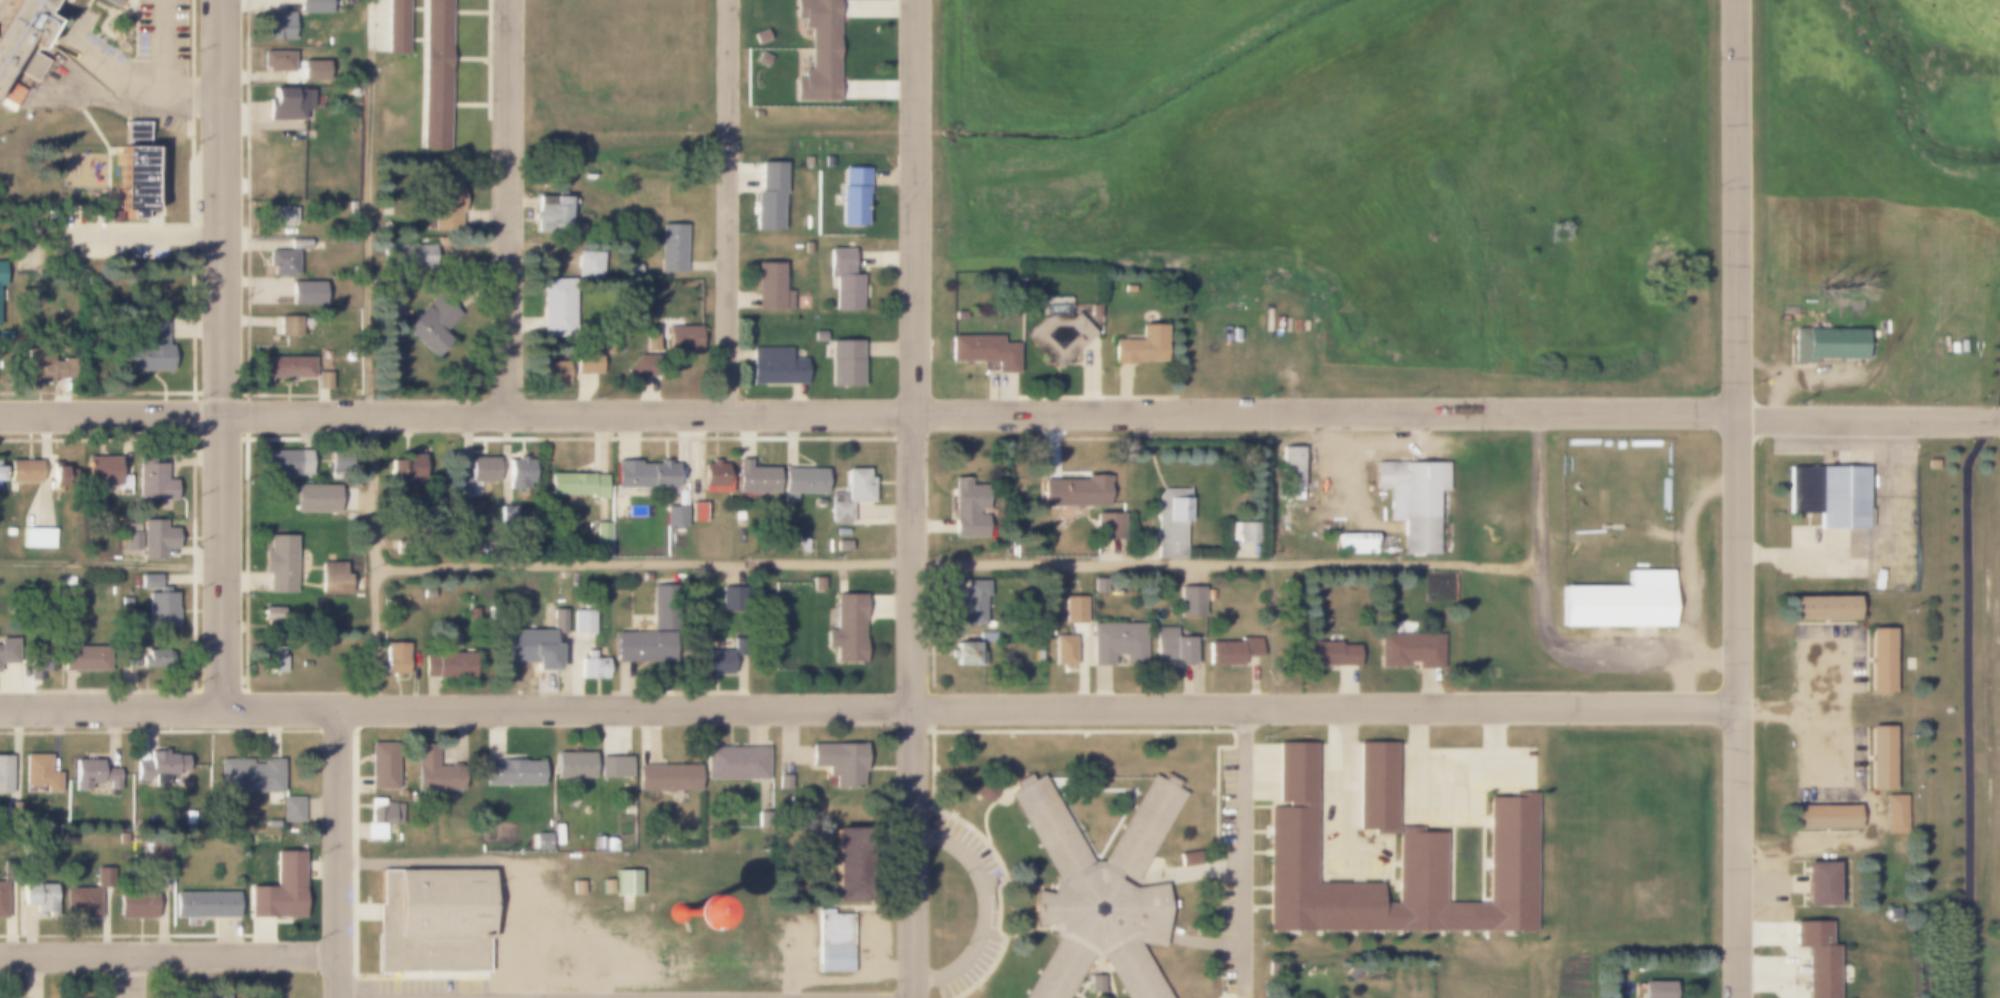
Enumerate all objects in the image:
building: (64, 1)
building: (113, 2)
building: (312, 6)
road: (370, 25)
building: (281, 26)
building: (397, 27)
parking lot: (163, 33)
building: (758, 36)
building: (22, 37)
road: (161, 47)
building: (817, 51)
building: (760, 58)
building: (276, 60)
building: (437, 72)
building: (322, 79)
road: (127, 85)
building: (287, 103)
building: (807, 161)
building: (826, 161)
building: (130, 171)
building: (766, 196)
building: (852, 197)
building: (441, 200)
road: (726, 206)
building: (349, 207)
road: (506, 208)
building: (552, 215)
building: (280, 216)
building: (384, 227)
parking lot: (108, 238)
building: (670, 248)
building: (807, 248)
building: (416, 255)
building: (285, 257)
road: (889, 260)
building: (629, 270)
building: (0, 275)
building: (844, 280)
building: (769, 288)
building: (305, 292)
building: (692, 295)
building: (556, 297)
building: (0, 302)
building: (431, 325)
building: (289, 326)
building: (748, 334)
building: (818, 337)
building: (1057, 337)
building: (682, 338)
building: (1827, 344)
building: (1140, 346)
building: (606, 348)
building: (150, 350)
building: (982, 352)
road: (224, 354)
building: (349, 357)
building: (586, 362)
building: (47, 365)
building: (844, 365)
building: (774, 366)
building: (280, 367)
building: (638, 367)
building: (552, 372)
road: (371, 378)
building: (323, 380)
road: (1990, 409)
road: (981, 411)
road: (112, 415)
road: (1868, 421)
building: (284, 465)
building: (405, 467)
building: (481, 469)
building: (102, 470)
building: (519, 471)
building: (22, 472)
building: (1291, 472)
building: (643, 473)
building: (0, 474)
building: (57, 477)
building: (714, 479)
building: (753, 480)
building: (152, 484)
building: (575, 484)
building: (802, 484)
building: (857, 487)
building: (463, 489)
building: (1073, 491)
building: (1830, 496)
building: (315, 498)
road: (914, 499)
building: (1412, 499)
road: (1736, 499)
building: (967, 508)
building: (839, 509)
building: (696, 512)
building: (507, 514)
building: (674, 517)
building: (1170, 523)
building: (1106, 526)
building: (9, 532)
building: (601, 533)
building: (131, 535)
building: (37, 537)
building: (156, 537)
building: (1242, 540)
building: (1356, 543)
building: (841, 546)
road: (113, 560)
road: (959, 561)
building: (279, 564)
building: (645, 575)
building: (333, 578)
building: (149, 580)
building: (817, 584)
building: (427, 593)
building: (732, 598)
building: (391, 602)
building: (1188, 602)
building: (972, 604)
building: (1621, 604)
building: (161, 609)
building: (1074, 609)
building: (1822, 609)
building: (275, 615)
building: (665, 615)
road: (1541, 619)
building: (559, 620)
building: (583, 621)
building: (846, 628)
building: (645, 641)
building: (1118, 643)
building: (1229, 649)
building: (10, 650)
building: (974, 650)
building: (1173, 650)
building: (1409, 651)
building: (1063, 652)
building: (548, 653)
building: (1330, 653)
building: (81, 658)
building: (127, 658)
building: (393, 658)
building: (156, 659)
building: (275, 660)
building: (1878, 660)
building: (713, 662)
building: (594, 663)
building: (446, 664)
road: (981, 707)
road: (1965, 708)
road: (113, 709)
parking lot: (1828, 714)
building: (569, 758)
building: (735, 758)
building: (1878, 758)
building: (840, 762)
road: (1454, 765)
building: (382, 766)
building: (614, 766)
building: (159, 769)
building: (433, 772)
building: (662, 772)
building: (40, 773)
building: (512, 773)
building: (248, 774)
building: (4, 775)
building: (93, 777)
building: (783, 783)
building: (1378, 787)
road: (1339, 801)
building: (291, 809)
building: (12, 813)
building: (1895, 814)
building: (377, 817)
building: (1823, 817)
building: (270, 824)
building: (49, 826)
building: (557, 836)
building: (121, 839)
building: (540, 841)
building: (608, 844)
road: (341, 853)
road: (1242, 854)
building: (1293, 859)
building: (845, 866)
building: (625, 883)
building: (1816, 884)
building: (576, 887)
building: (590, 887)
building: (605, 887)
building: (278, 888)
building: (1100, 892)
building: (83, 897)
building: (2, 898)
building: (43, 899)
building: (134, 901)
building: (204, 903)
road: (985, 909)
water tower: (681, 913)
building: (1891, 915)
building: (431, 921)
building: (835, 942)
road: (170, 955)
building: (1815, 958)
road: (129, 976)
building: (1098, 984)
building: (1655, 990)
building: (217, 995)

